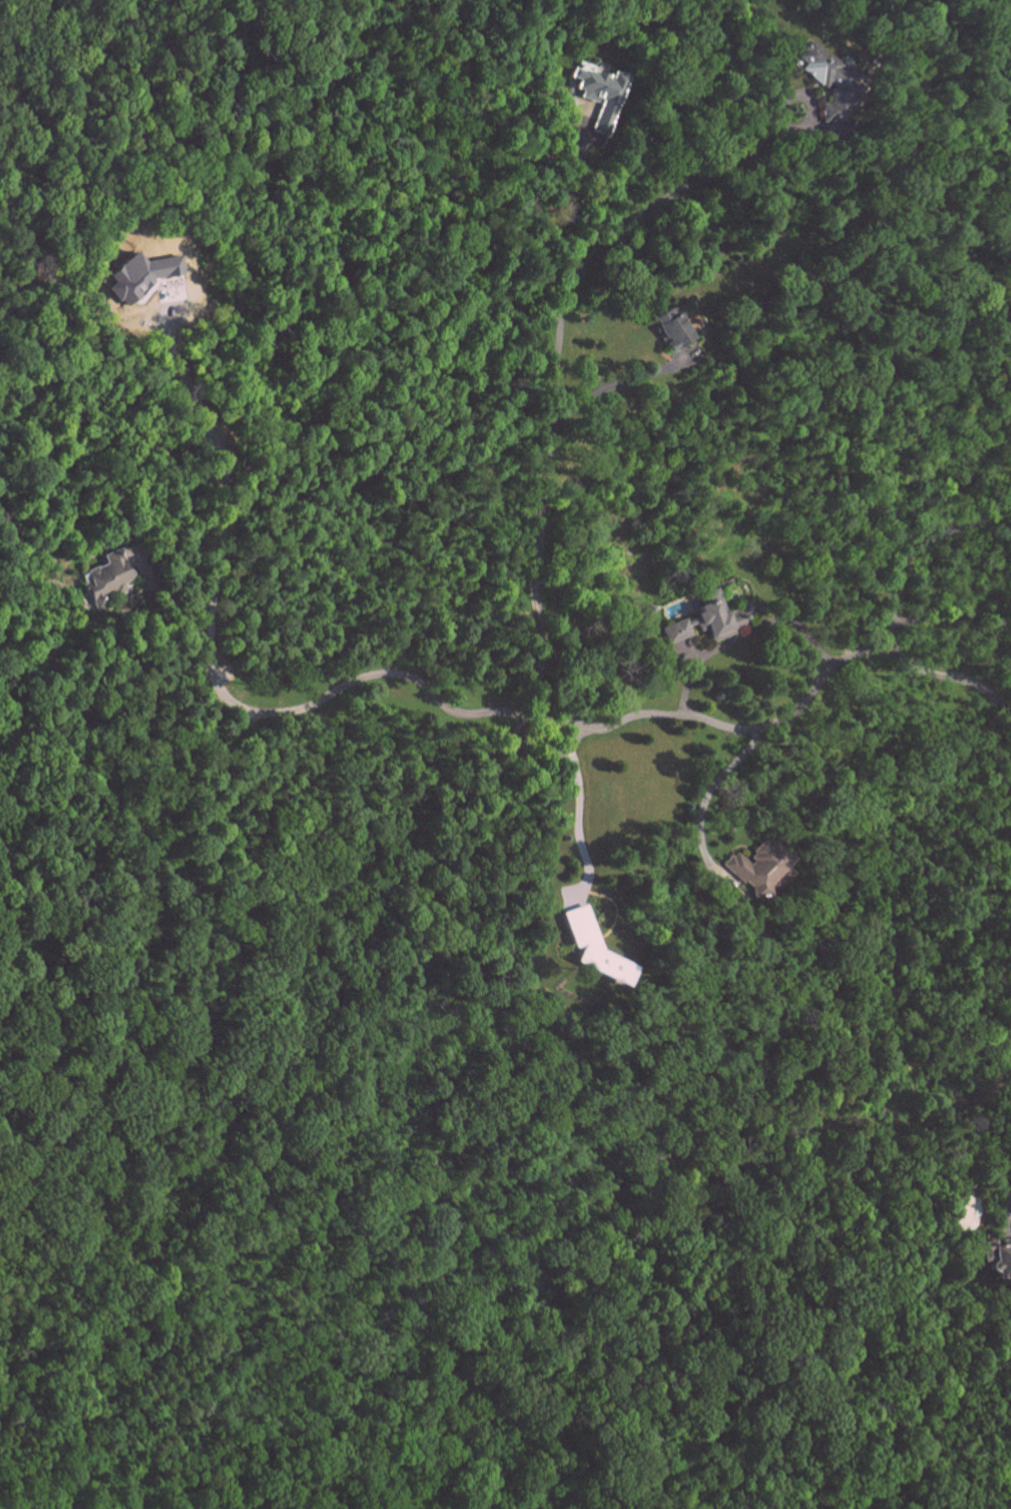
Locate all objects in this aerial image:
building: (833, 81)
building: (599, 96)
road: (567, 205)
building: (143, 280)
building: (670, 329)
road: (553, 378)
road: (601, 388)
road: (217, 458)
road: (912, 545)
building: (104, 576)
road: (952, 616)
road: (745, 627)
road: (336, 687)
road: (809, 694)
road: (522, 742)
road: (704, 791)
road: (575, 824)
building: (758, 866)
building: (593, 947)
building: (998, 1260)

